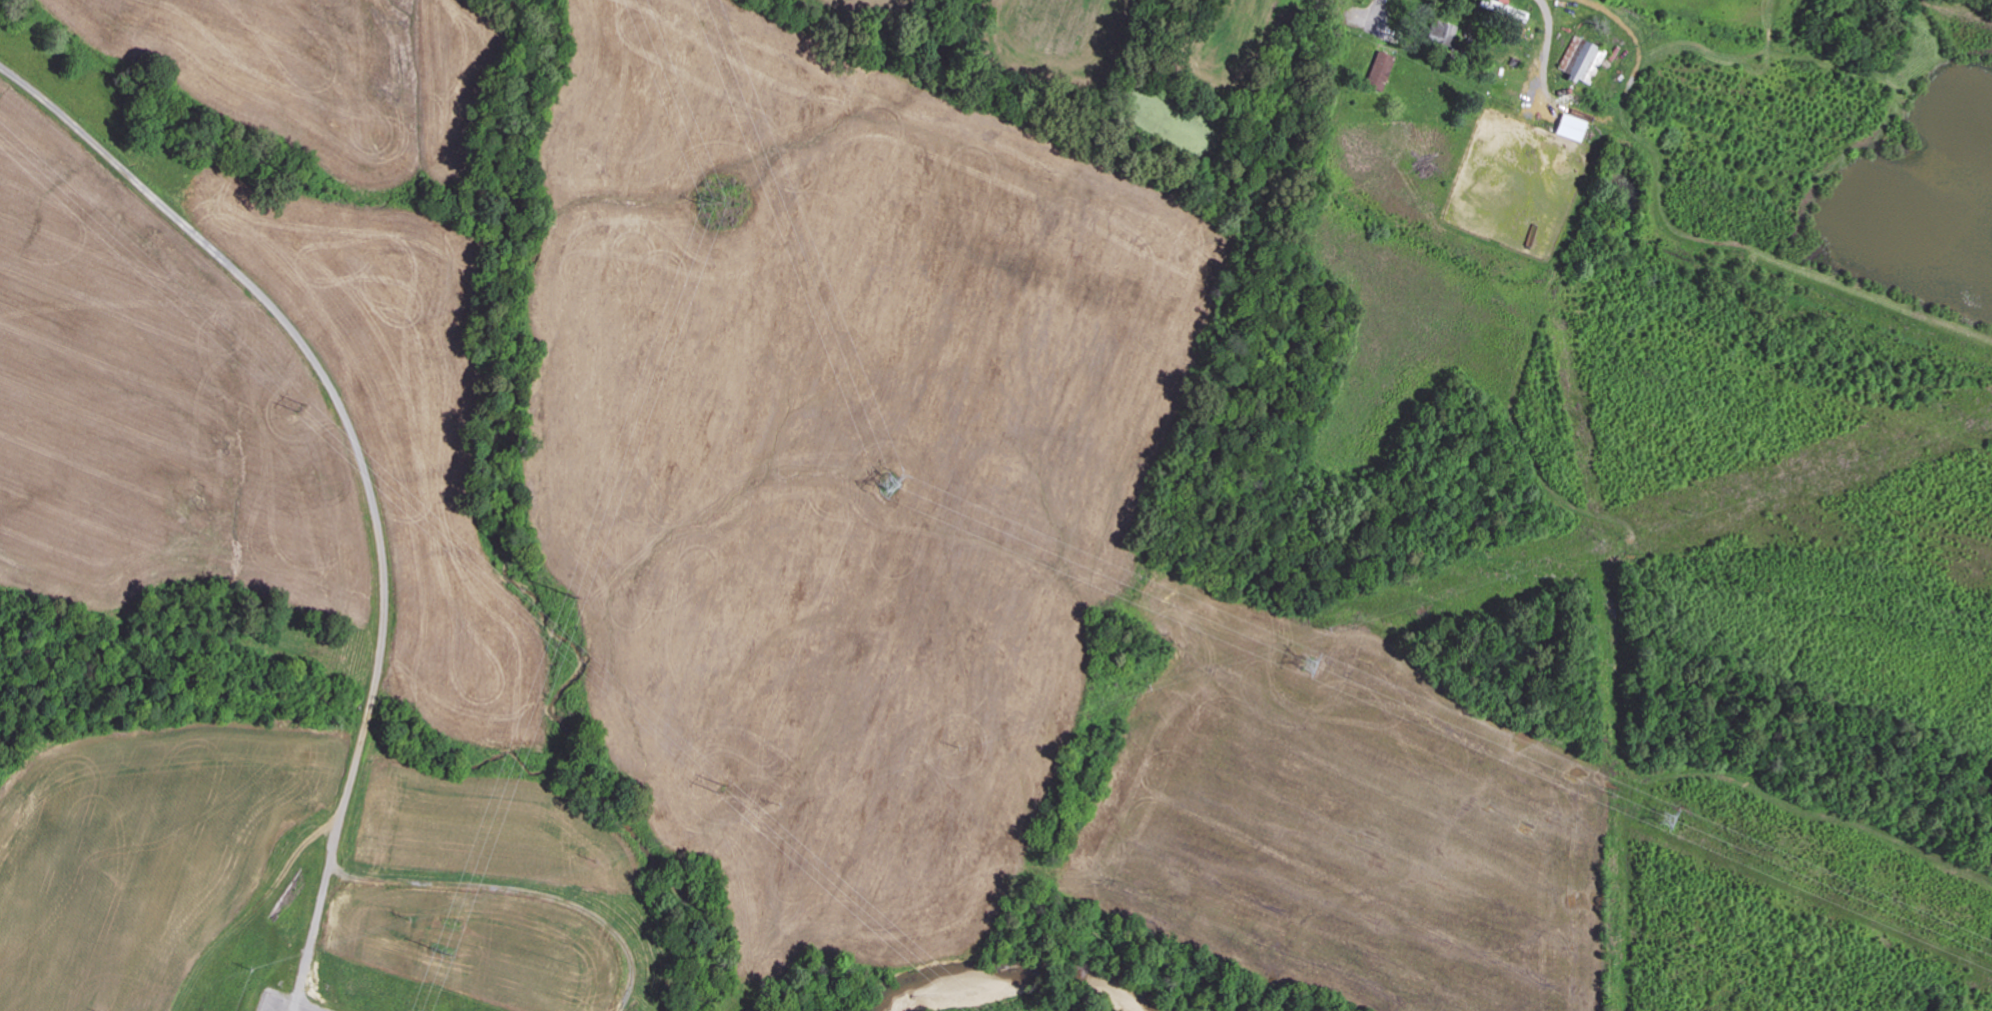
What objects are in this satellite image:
road: (1377, 9)
building: (1503, 9)
building: (1443, 34)
building: (1583, 61)
building: (1382, 72)
power tower: (307, 411)
power tower: (896, 487)
power tower: (1322, 667)
power tower: (725, 788)
power tower: (1669, 819)
power substation: (280, 1003)

